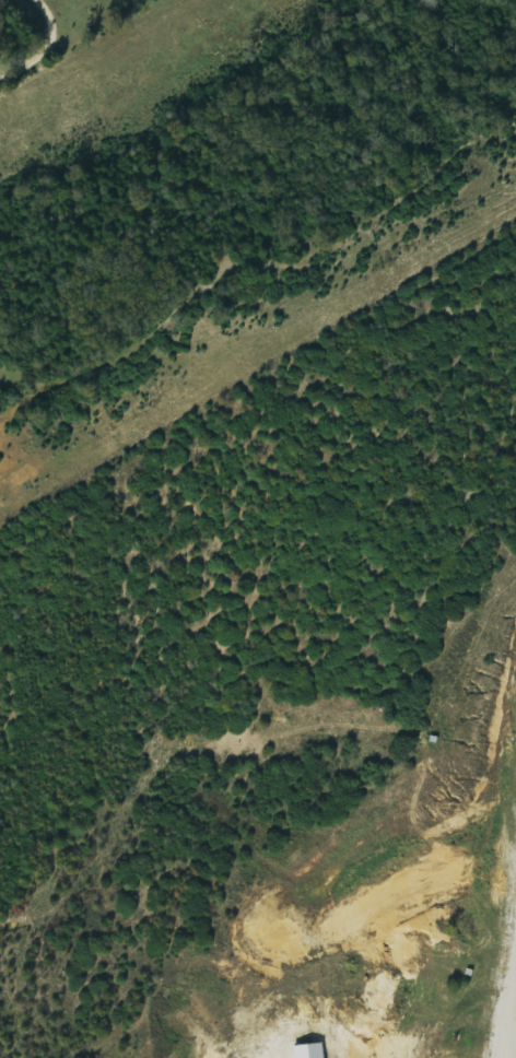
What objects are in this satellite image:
building: (313, 1051)

